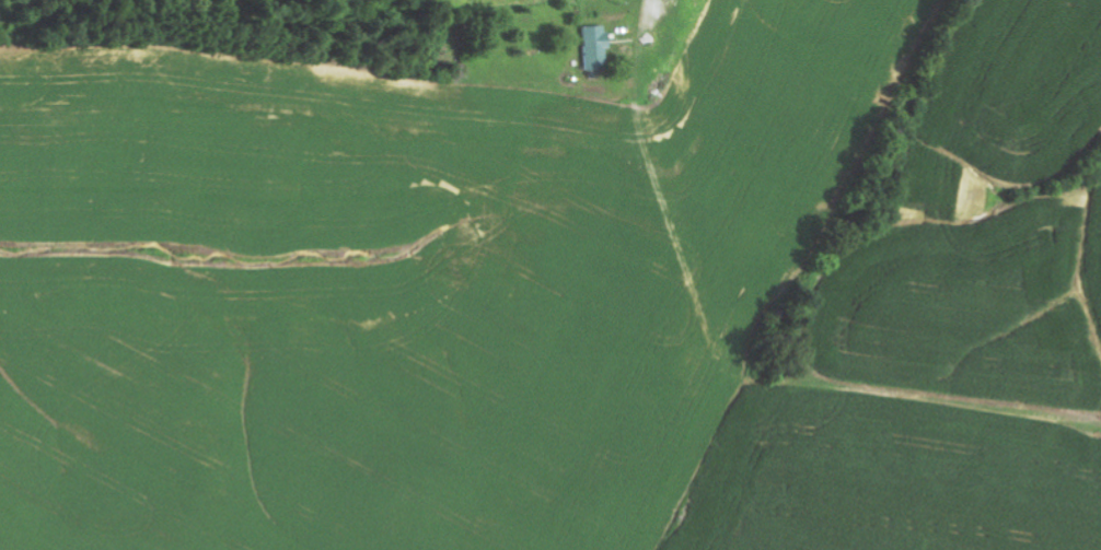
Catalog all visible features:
building: (598, 47)

